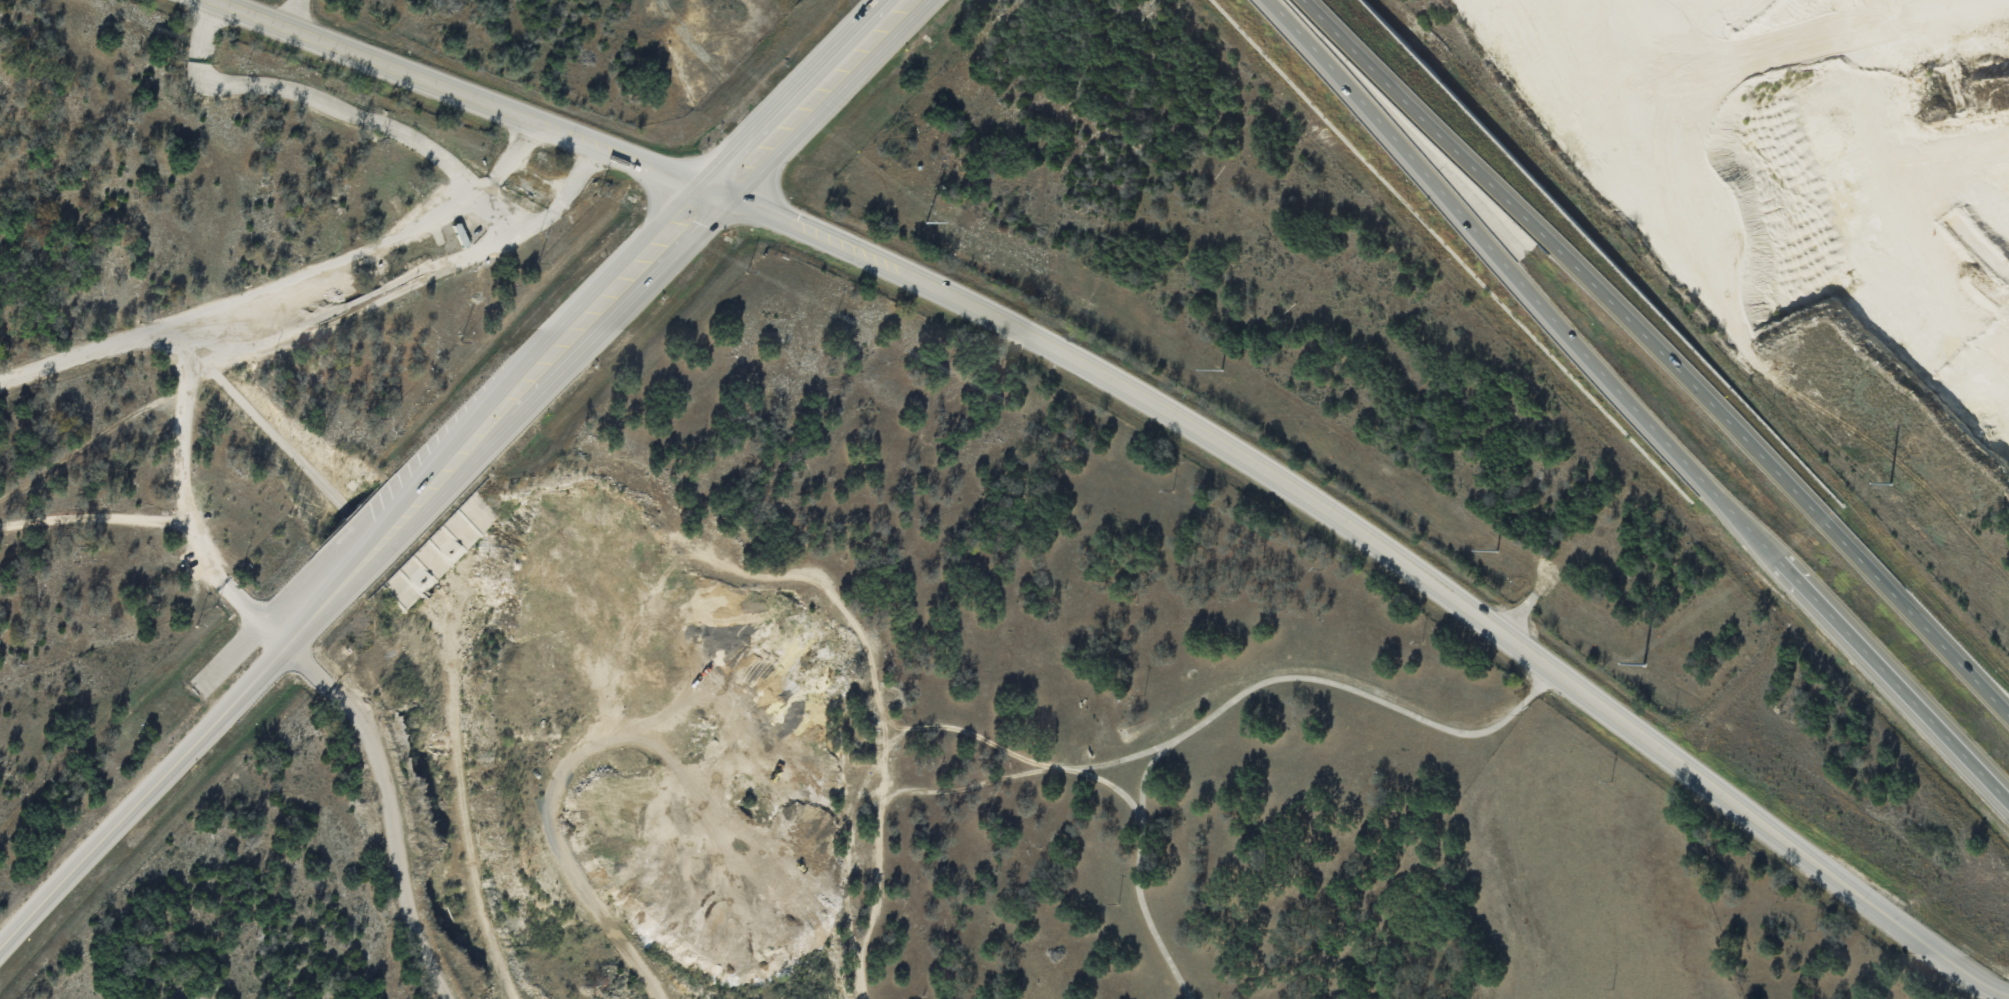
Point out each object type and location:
road: (799, 94)
road: (353, 113)
road: (547, 215)
power tower: (928, 222)
road: (242, 296)
road: (364, 302)
road: (1658, 351)
power tower: (1221, 368)
road: (1631, 405)
road: (1158, 407)
power tower: (1889, 482)
road: (182, 495)
power tower: (1495, 551)
road: (349, 569)
power tower: (1643, 663)
road: (1233, 698)
road: (386, 808)

